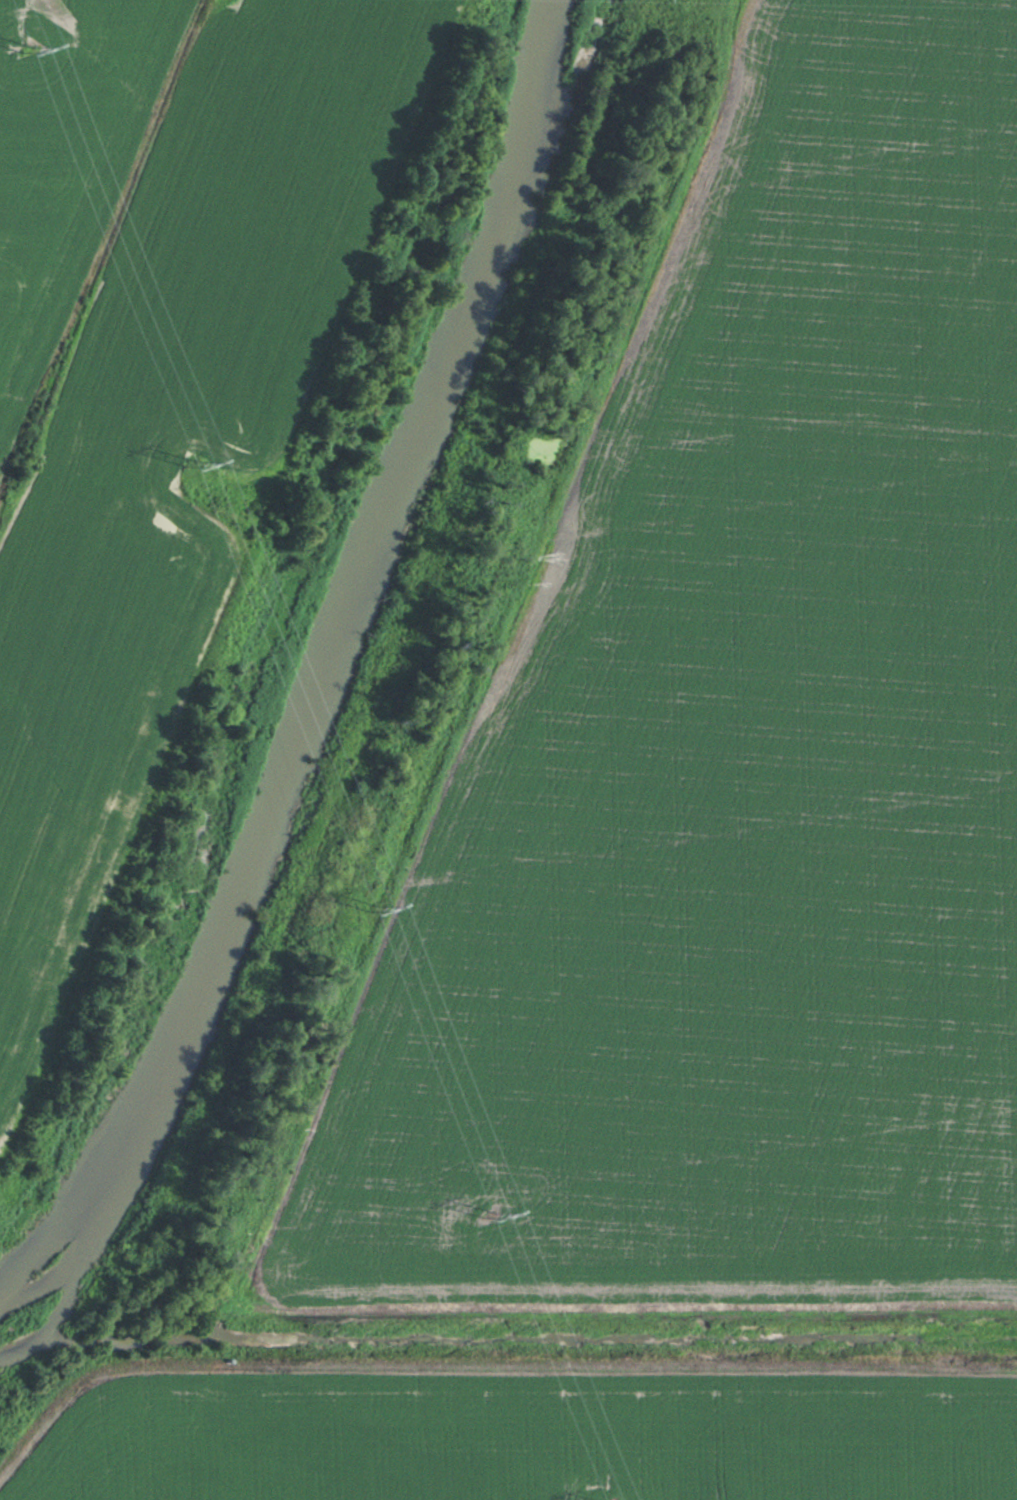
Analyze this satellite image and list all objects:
power tower: (27, 47)
power tower: (191, 460)
river: (324, 669)
power tower: (368, 905)
power tower: (489, 1212)

